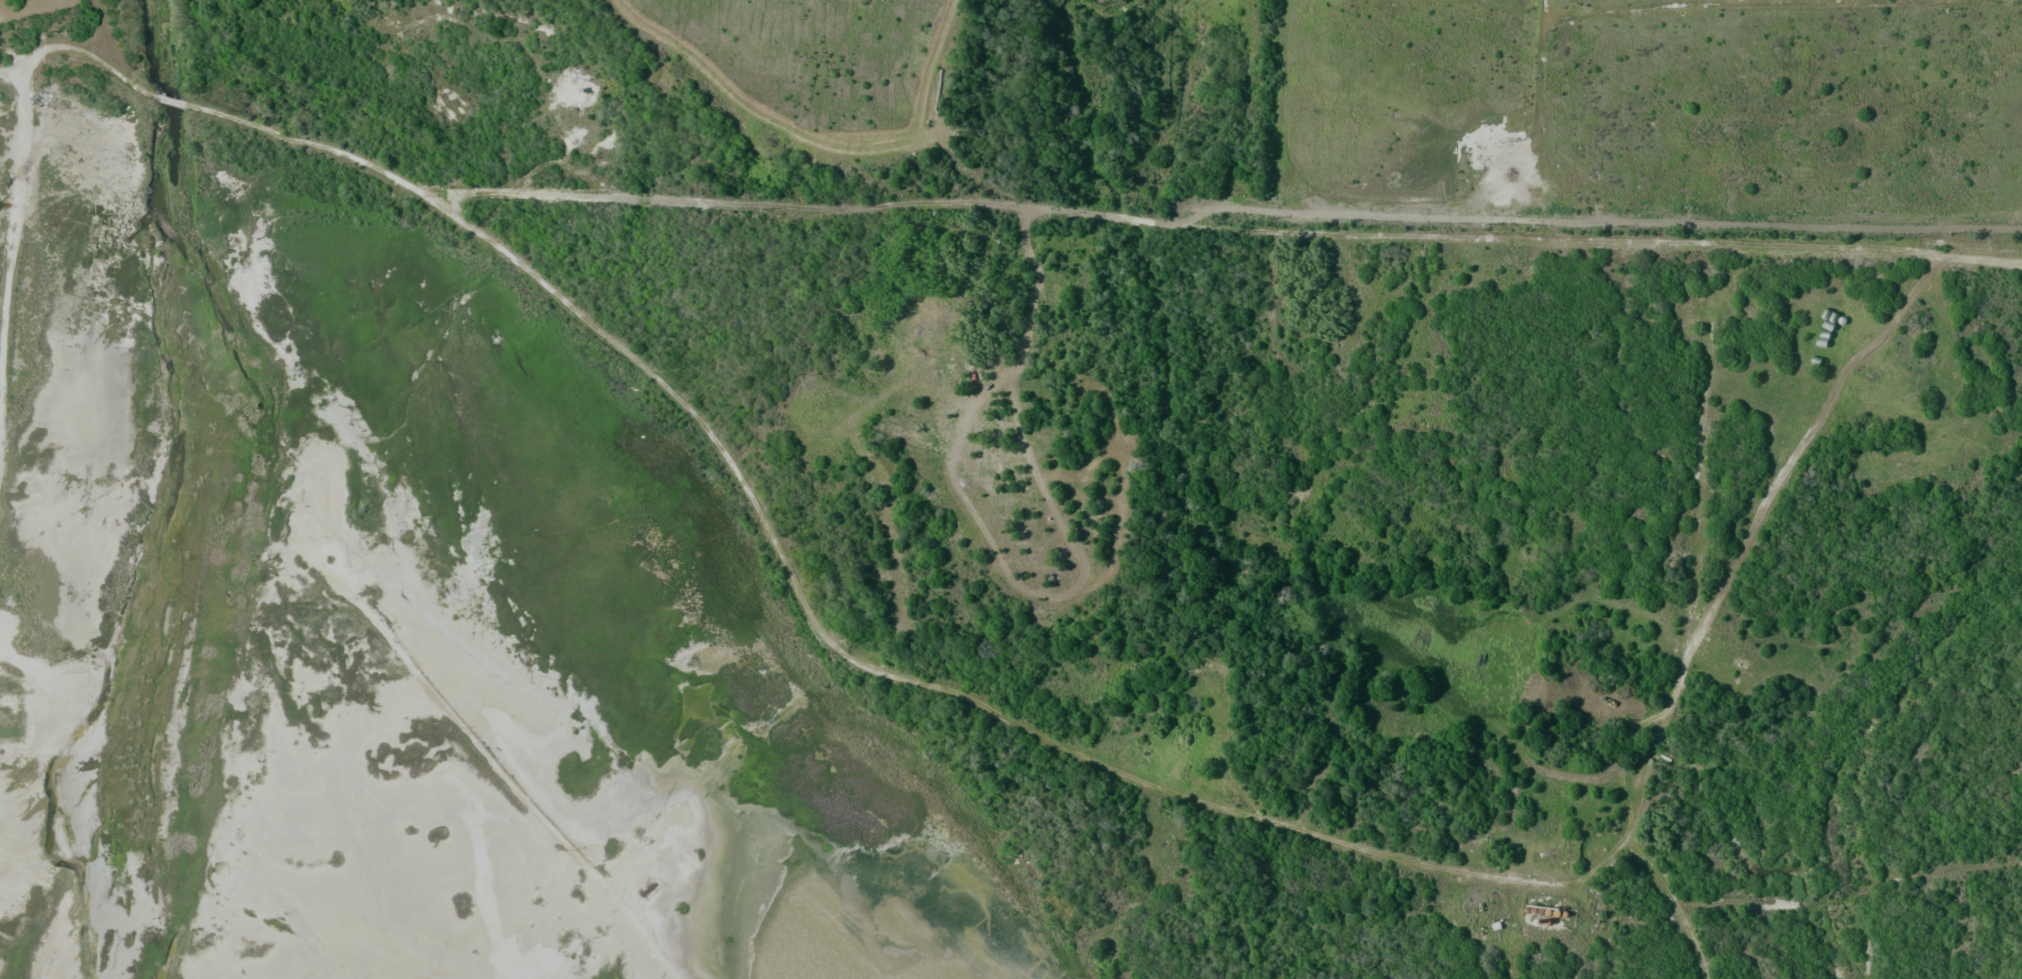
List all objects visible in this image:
road: (1938, 1)
road: (1546, 8)
road: (1546, 19)
road: (12, 77)
road: (171, 101)
road: (23, 152)
road: (1574, 239)
road: (1699, 435)
road: (1807, 439)
road: (915, 681)
road: (516, 790)
road: (1674, 903)

